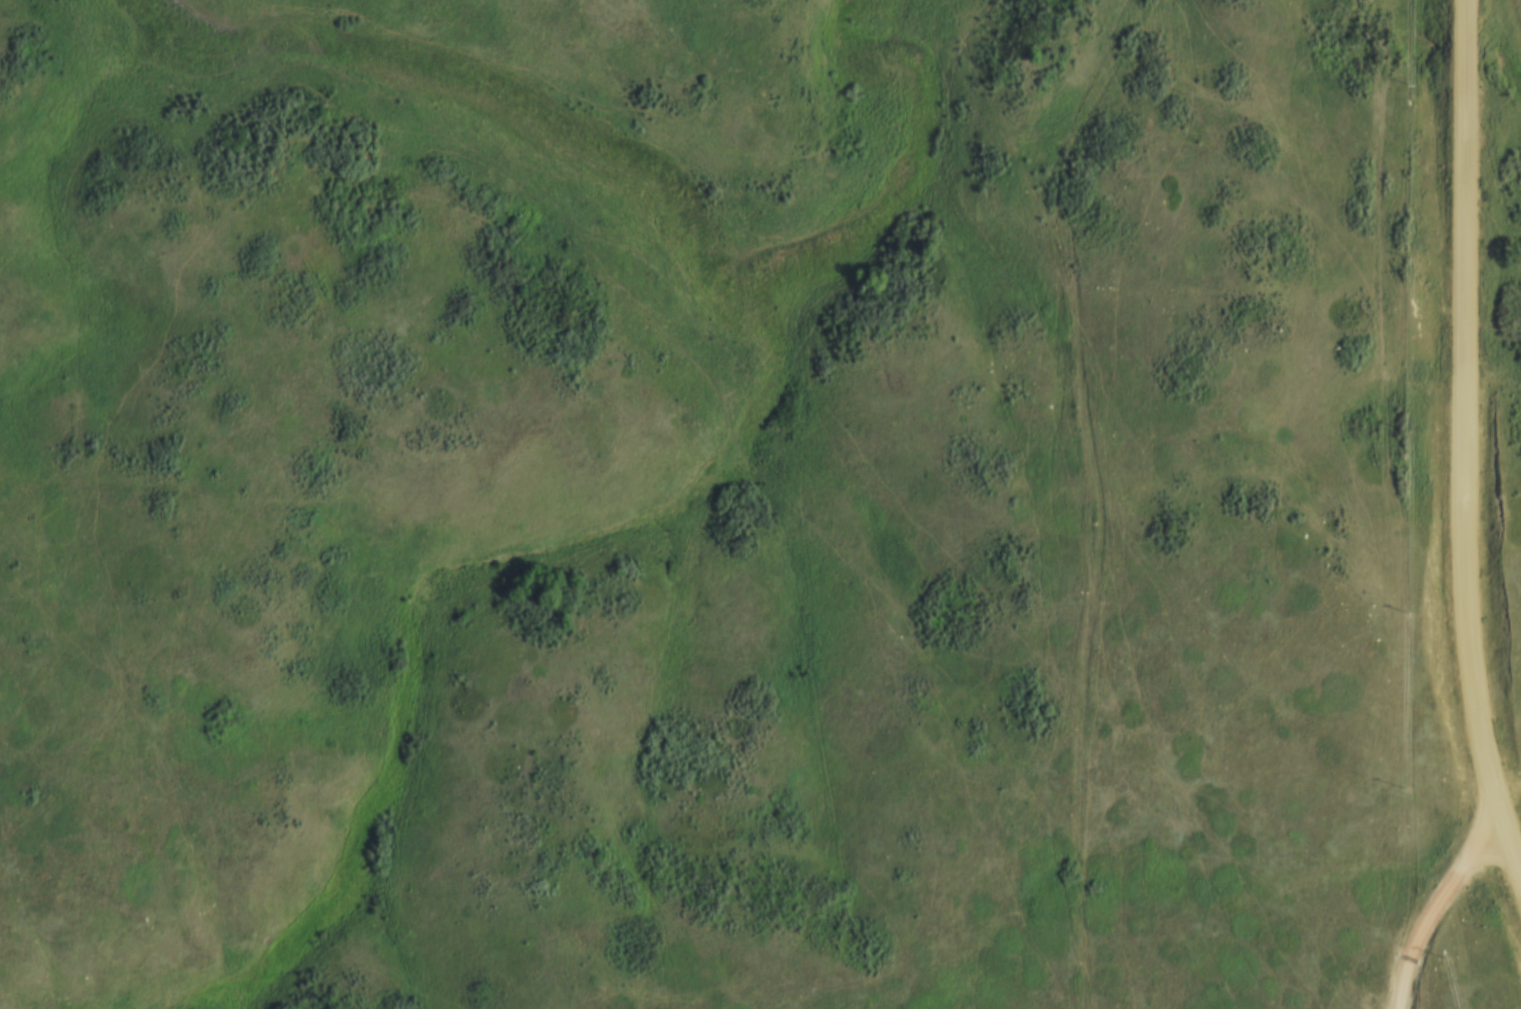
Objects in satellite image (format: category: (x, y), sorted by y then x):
road: (1465, 436)
road: (1430, 902)

